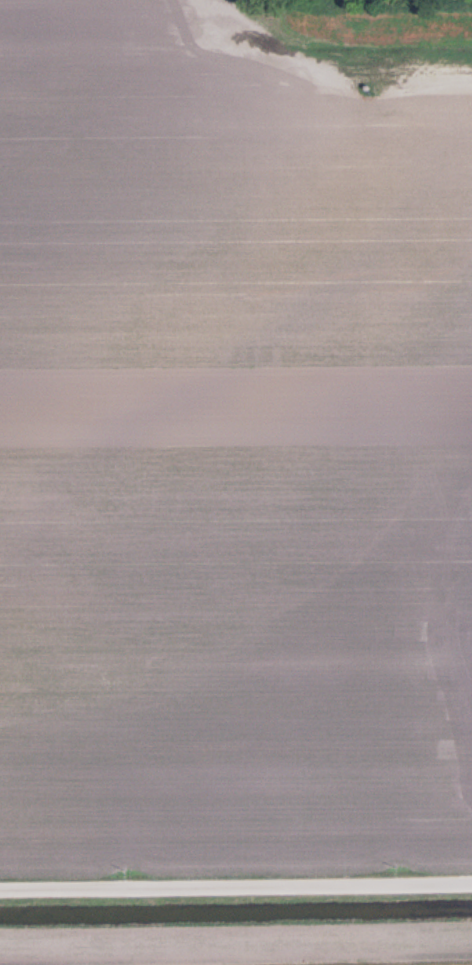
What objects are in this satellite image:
road: (236, 887)

